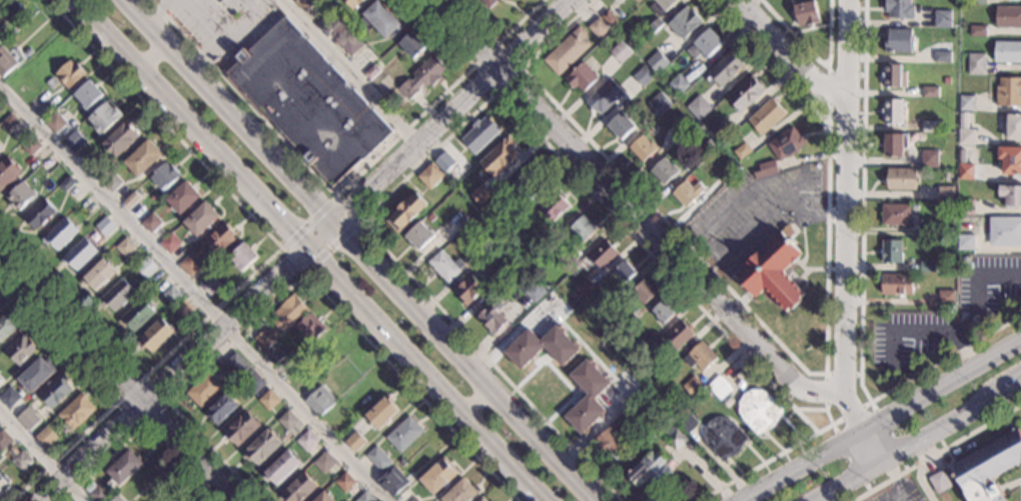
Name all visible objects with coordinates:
building: (637, 1)
building: (487, 2)
building: (977, 2)
building: (351, 3)
building: (304, 4)
building: (661, 6)
building: (898, 9)
building: (806, 13)
building: (1008, 17)
building: (609, 18)
building: (942, 19)
building: (378, 20)
building: (326, 22)
building: (684, 23)
building: (655, 26)
building: (598, 28)
building: (977, 31)
building: (642, 35)
building: (0, 36)
building: (0, 40)
road: (498, 41)
building: (899, 41)
building: (351, 45)
building: (411, 45)
building: (705, 45)
road: (148, 51)
building: (567, 51)
building: (26, 52)
building: (620, 52)
building: (1007, 52)
road: (790, 54)
building: (942, 56)
road: (814, 58)
building: (5, 61)
building: (657, 62)
building: (976, 64)
road: (520, 69)
building: (724, 70)
road: (350, 72)
building: (370, 72)
building: (68, 74)
building: (581, 75)
building: (642, 76)
building: (894, 76)
building: (422, 78)
building: (945, 81)
building: (51, 83)
building: (679, 85)
road: (827, 90)
building: (929, 91)
building: (1008, 92)
building: (87, 94)
building: (745, 94)
building: (604, 96)
road: (506, 102)
building: (308, 103)
building: (966, 103)
building: (659, 104)
building: (698, 107)
building: (893, 111)
building: (766, 116)
building: (104, 117)
road: (840, 117)
building: (963, 119)
building: (8, 121)
building: (54, 123)
building: (620, 125)
building: (680, 126)
building: (929, 127)
building: (1014, 127)
building: (718, 131)
building: (479, 135)
building: (967, 137)
building: (120, 138)
building: (703, 139)
building: (74, 141)
building: (785, 144)
building: (733, 145)
building: (894, 145)
building: (29, 146)
building: (642, 148)
building: (705, 148)
building: (742, 151)
building: (498, 157)
building: (142, 158)
building: (929, 158)
building: (960, 160)
building: (1010, 160)
building: (444, 161)
building: (92, 162)
building: (47, 163)
building: (765, 170)
building: (663, 171)
building: (7, 172)
building: (965, 172)
building: (722, 174)
building: (164, 176)
building: (430, 176)
building: (901, 179)
building: (111, 182)
building: (527, 182)
building: (66, 184)
road: (338, 191)
building: (687, 193)
building: (479, 194)
building: (944, 194)
building: (19, 196)
road: (843, 196)
building: (1011, 196)
building: (182, 197)
building: (130, 200)
building: (554, 205)
building: (966, 207)
building: (914, 208)
road: (345, 209)
road: (627, 211)
building: (405, 212)
road: (769, 213)
building: (39, 214)
building: (896, 215)
building: (201, 219)
road: (307, 221)
building: (150, 222)
road: (717, 222)
building: (105, 226)
building: (506, 228)
building: (581, 228)
building: (934, 230)
building: (1005, 231)
building: (59, 234)
building: (418, 236)
building: (547, 237)
building: (218, 238)
building: (965, 242)
building: (168, 243)
road: (330, 246)
building: (125, 247)
road: (359, 250)
road: (310, 251)
building: (480, 251)
building: (891, 251)
road: (305, 252)
building: (79, 254)
building: (601, 254)
building: (242, 256)
road: (292, 259)
building: (189, 265)
building: (444, 266)
road: (259, 267)
building: (537, 267)
building: (927, 267)
building: (145, 268)
building: (772, 271)
building: (623, 272)
building: (98, 275)
road: (299, 275)
building: (209, 284)
building: (473, 284)
building: (896, 284)
road: (860, 288)
building: (579, 289)
road: (196, 291)
building: (534, 292)
building: (643, 292)
building: (117, 295)
building: (170, 295)
building: (946, 299)
building: (610, 300)
building: (182, 309)
building: (662, 312)
building: (136, 316)
building: (492, 317)
building: (627, 320)
building: (281, 321)
building: (6, 326)
building: (309, 328)
building: (678, 334)
building: (155, 336)
building: (648, 341)
road: (779, 343)
building: (541, 347)
building: (21, 349)
building: (273, 356)
building: (700, 357)
building: (236, 364)
building: (36, 374)
road: (118, 374)
road: (825, 374)
building: (251, 381)
building: (329, 382)
building: (691, 386)
building: (719, 387)
building: (204, 389)
building: (662, 389)
road: (942, 390)
building: (55, 391)
road: (109, 391)
building: (9, 397)
road: (473, 397)
building: (587, 397)
building: (268, 400)
building: (318, 401)
road: (166, 402)
road: (971, 405)
building: (221, 409)
building: (758, 410)
road: (825, 410)
building: (76, 411)
building: (381, 412)
road: (850, 412)
road: (852, 414)
building: (24, 415)
building: (336, 419)
building: (287, 420)
building: (686, 421)
building: (613, 425)
road: (138, 427)
building: (241, 428)
building: (404, 434)
building: (43, 435)
building: (673, 438)
building: (723, 438)
building: (4, 440)
building: (306, 441)
building: (354, 441)
building: (607, 443)
road: (901, 443)
road: (873, 445)
building: (261, 448)
road: (936, 452)
road: (41, 456)
building: (377, 459)
building: (21, 460)
building: (323, 462)
building: (401, 462)
building: (987, 467)
building: (281, 468)
road: (806, 468)
road: (920, 468)
building: (122, 469)
building: (649, 469)
building: (438, 475)
road: (892, 475)
road: (843, 477)
building: (344, 482)
building: (392, 482)
building: (939, 482)
building: (3, 484)
road: (1010, 484)
building: (299, 489)
road: (1020, 490)
building: (460, 492)
parking lot: (899, 492)
building: (98, 493)
building: (324, 497)
building: (364, 497)
road: (819, 497)
building: (116, 498)
building: (481, 499)
road: (897, 499)
road: (901, 499)
building: (155, 500)
building: (414, 500)

